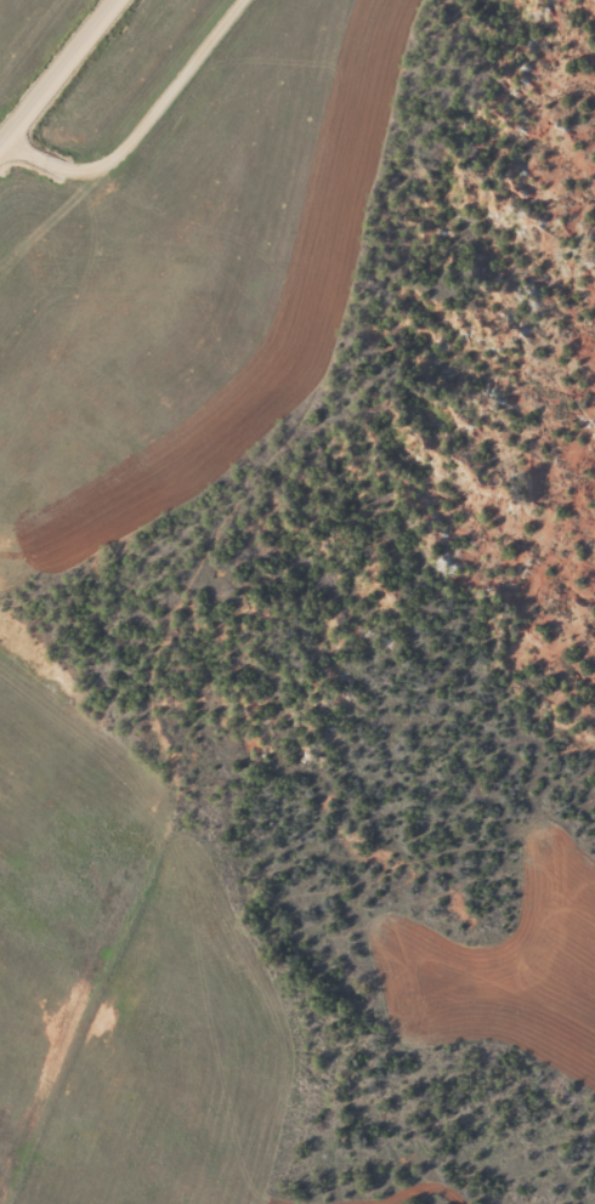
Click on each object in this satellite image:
road: (59, 74)

